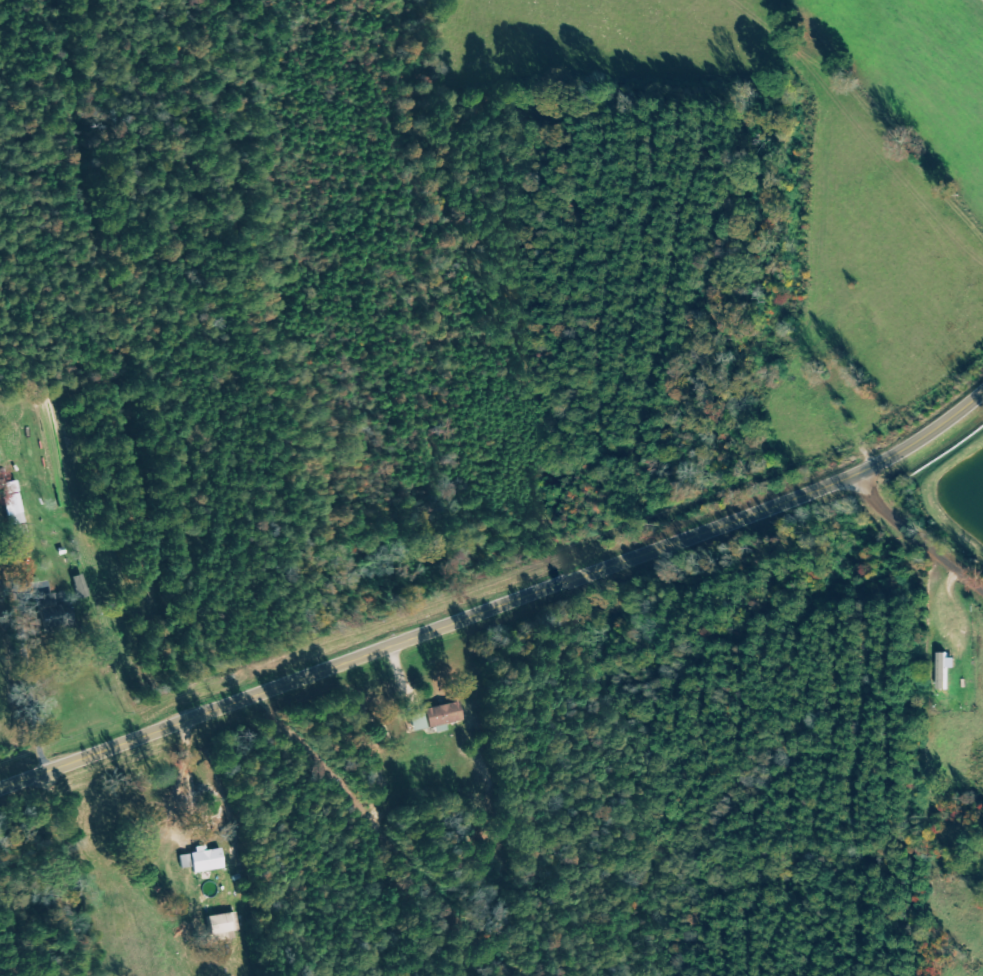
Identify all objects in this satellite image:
road: (919, 541)
building: (84, 587)
road: (499, 601)
building: (56, 608)
building: (947, 669)
building: (447, 713)
building: (207, 859)
road: (51, 873)
building: (226, 923)

